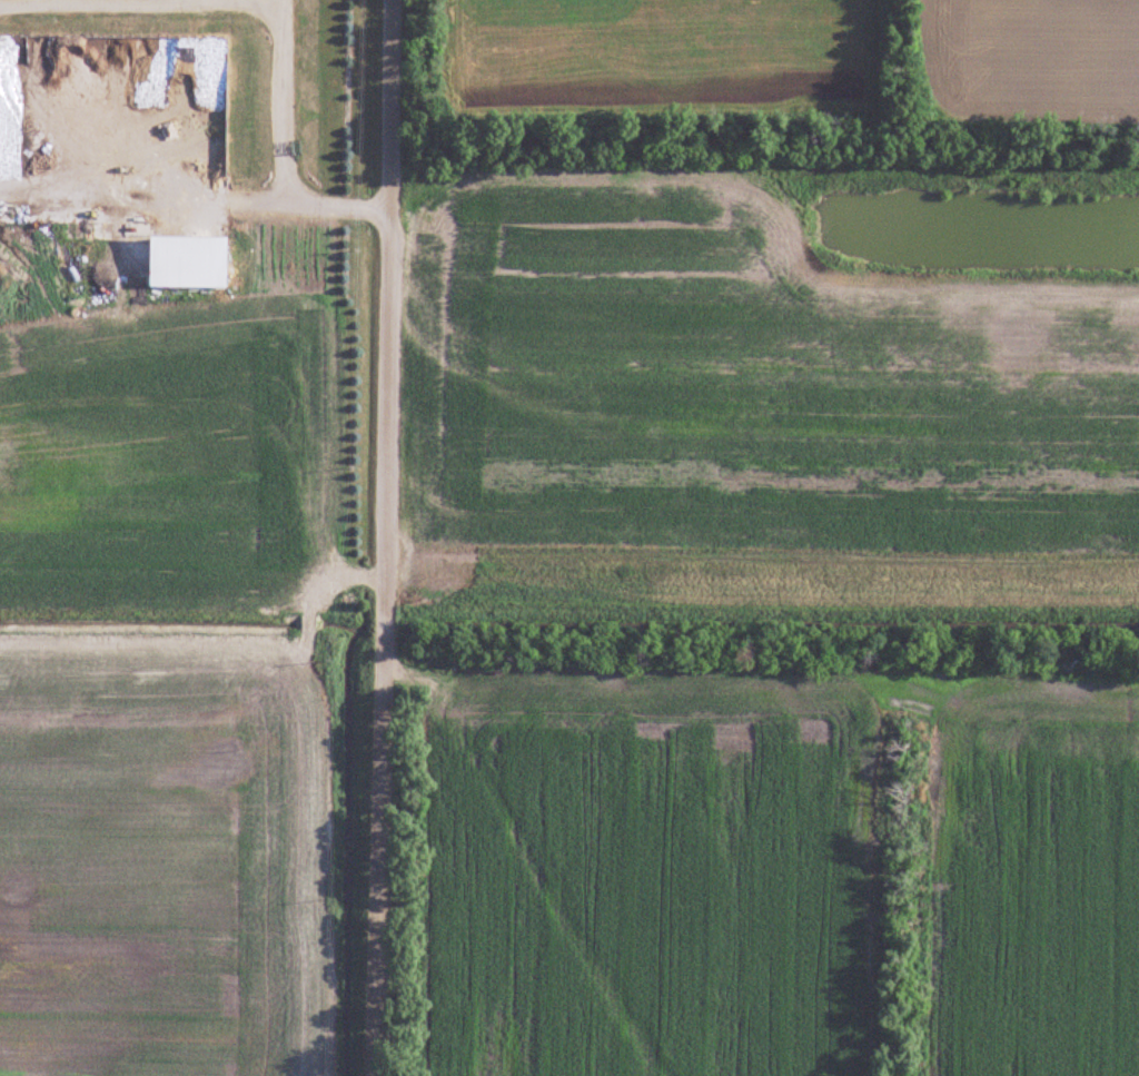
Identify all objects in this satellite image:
road: (180, 1)
road: (138, 2)
road: (275, 151)
road: (137, 196)
building: (189, 261)
road: (383, 537)

